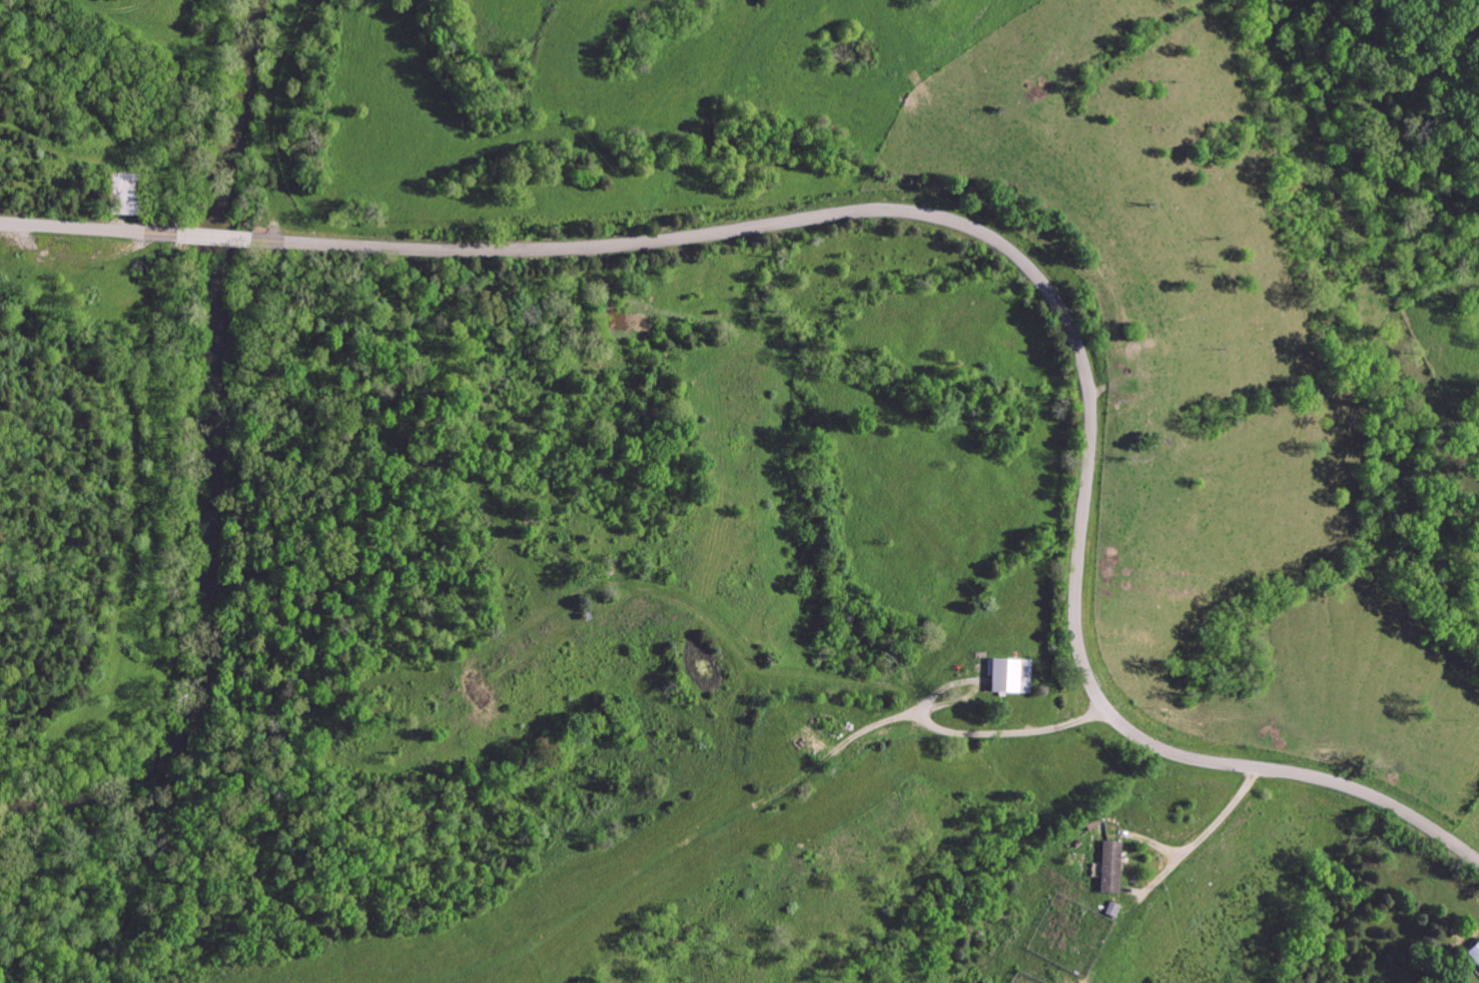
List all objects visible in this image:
road: (957, 221)
river: (208, 459)
building: (1006, 675)
road: (1012, 733)
road: (1204, 835)
building: (1108, 866)
building: (1110, 909)
building: (1474, 953)

